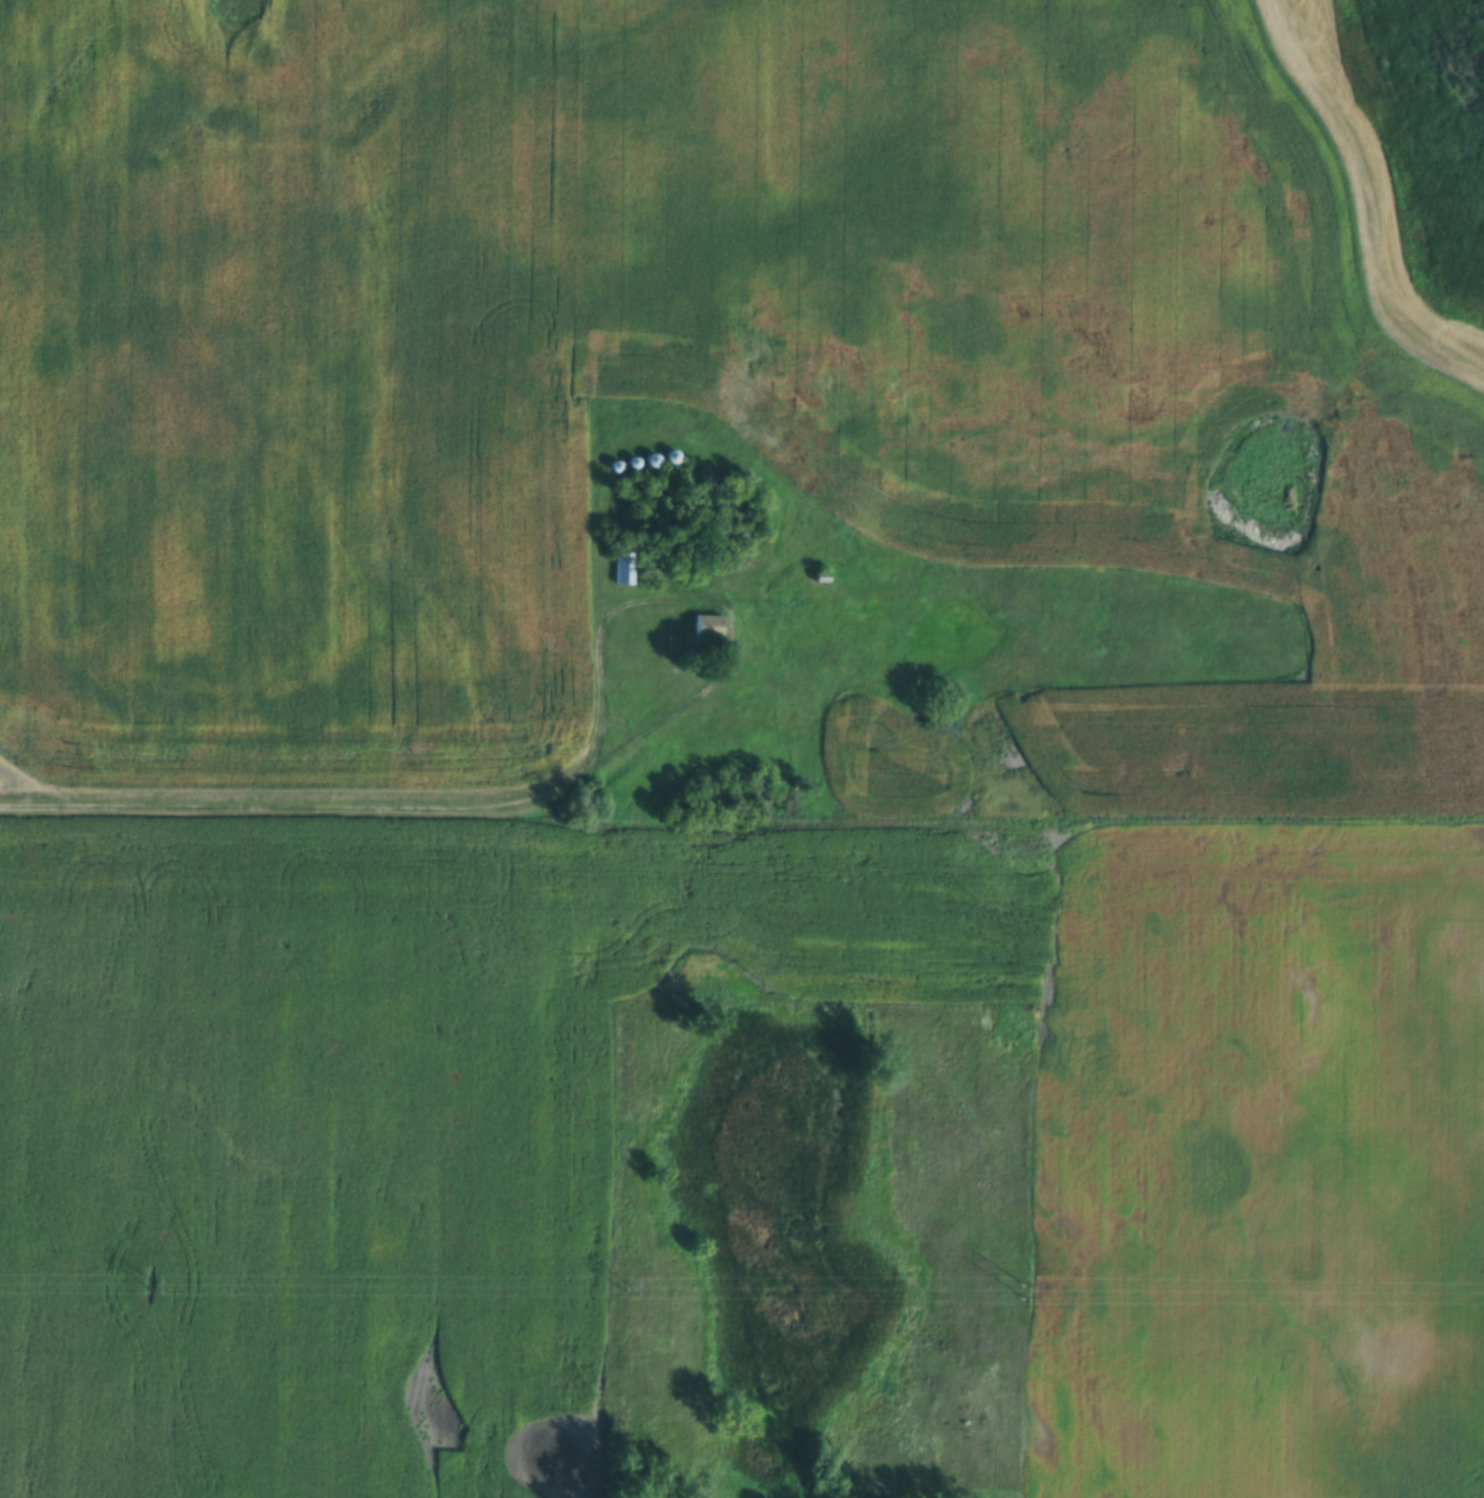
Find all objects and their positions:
building: (854, 412)
building: (837, 548)
building: (624, 568)
building: (821, 577)
road: (711, 600)
building: (709, 625)
road: (295, 812)
power tower: (145, 1282)
power tower: (625, 1286)
power tower: (1027, 1290)

